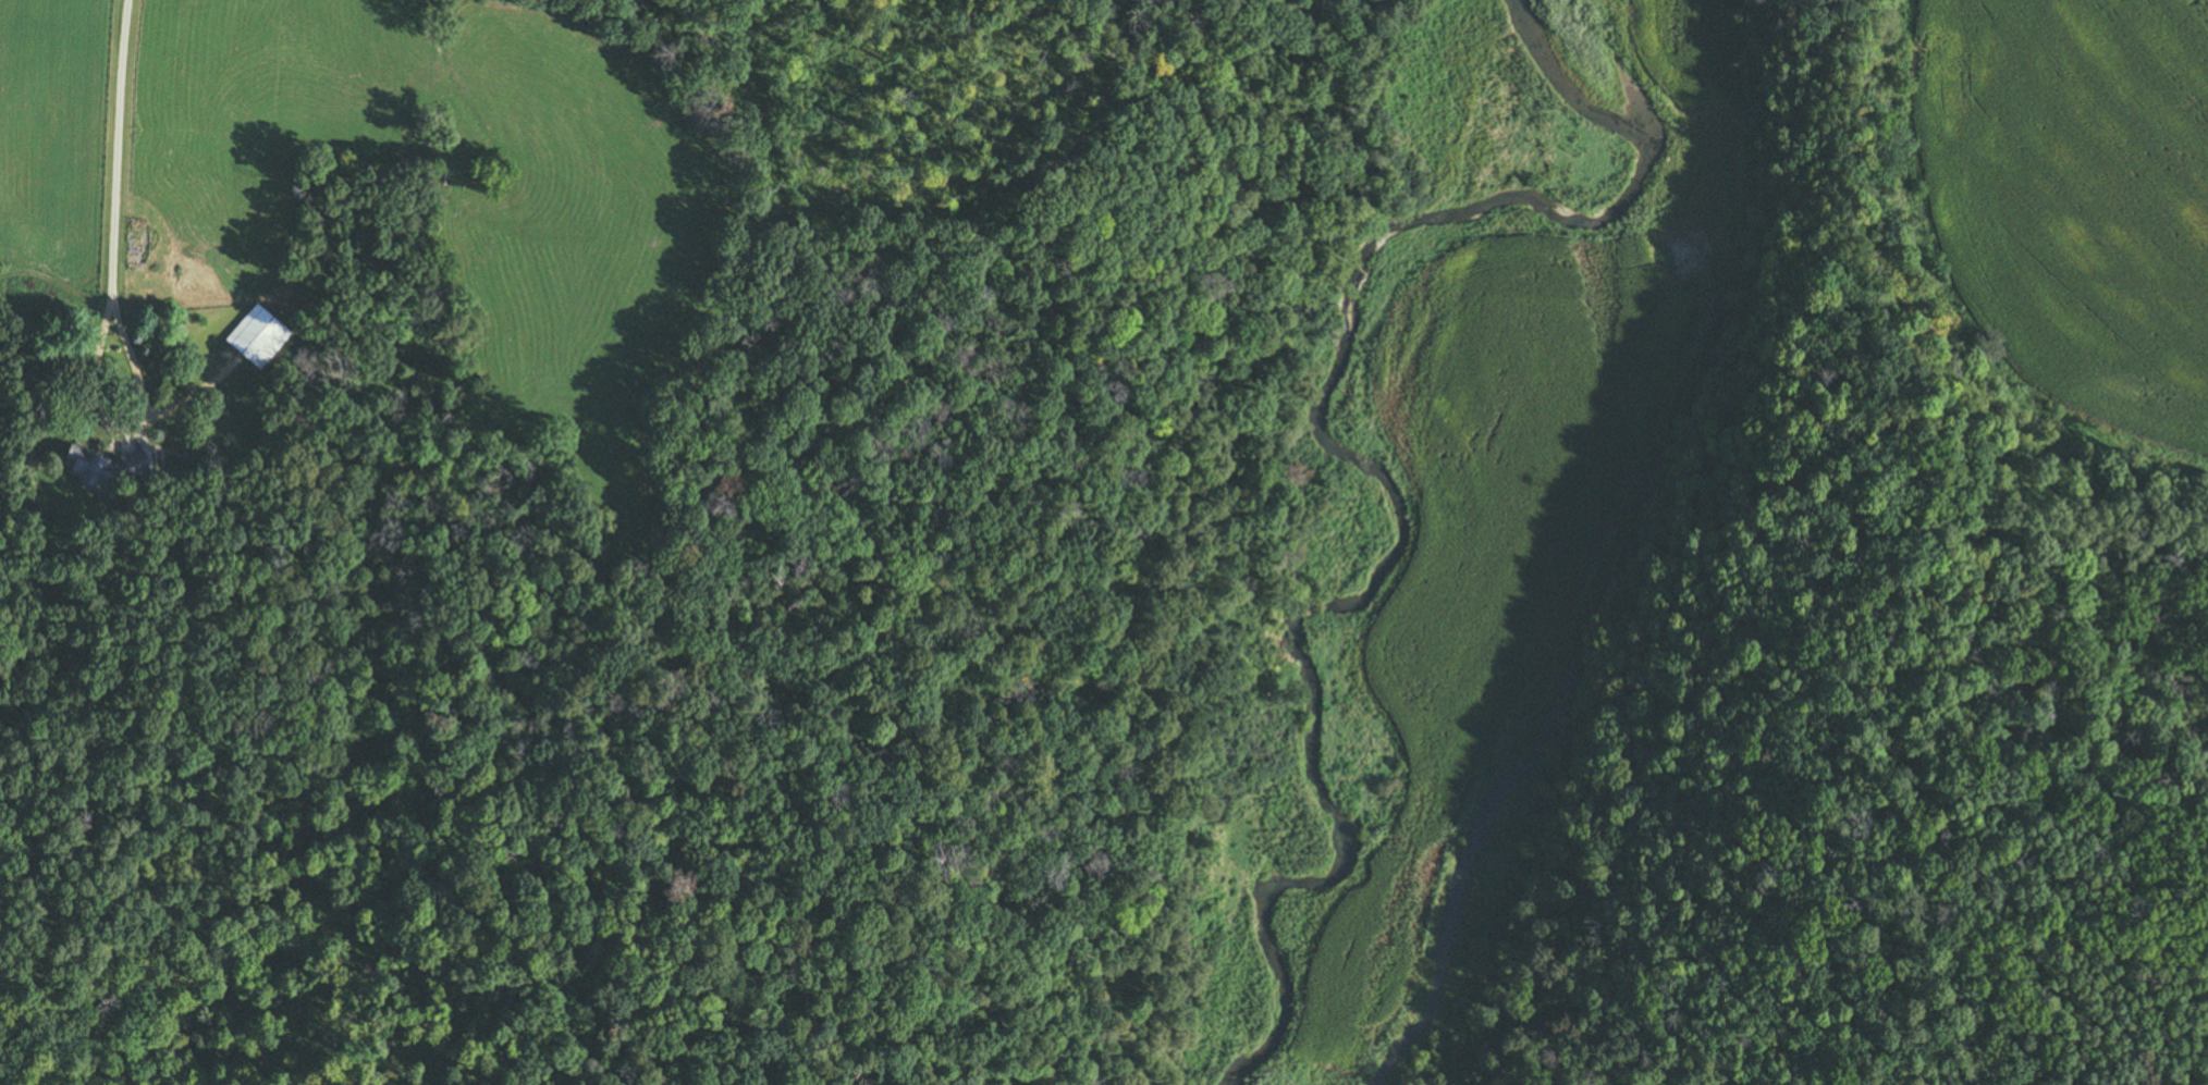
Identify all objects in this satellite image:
road: (120, 150)
building: (253, 336)
road: (121, 434)
building: (98, 468)

